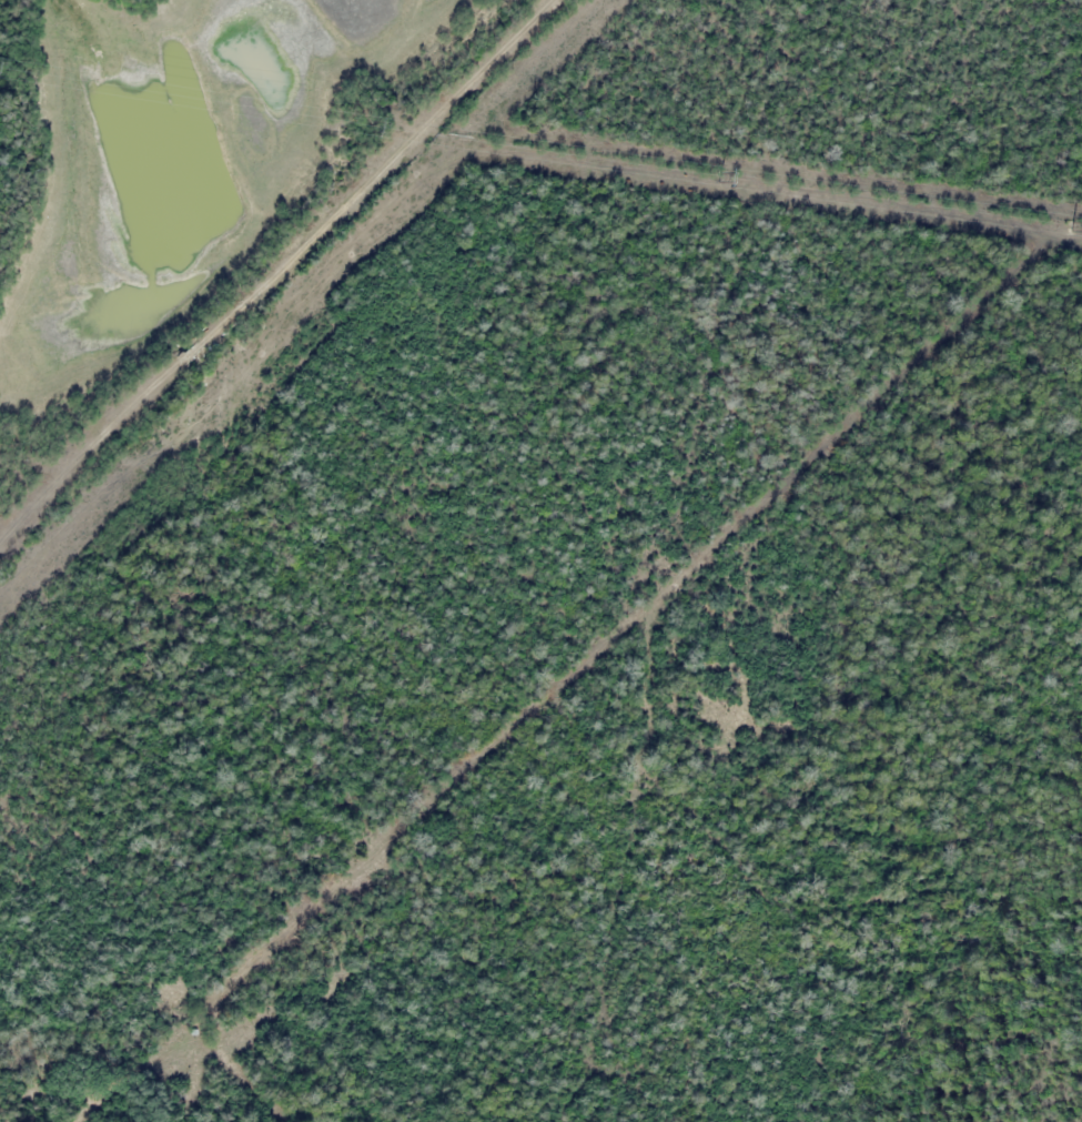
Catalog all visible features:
power tower: (363, 122)
power tower: (719, 175)
power tower: (1070, 224)

